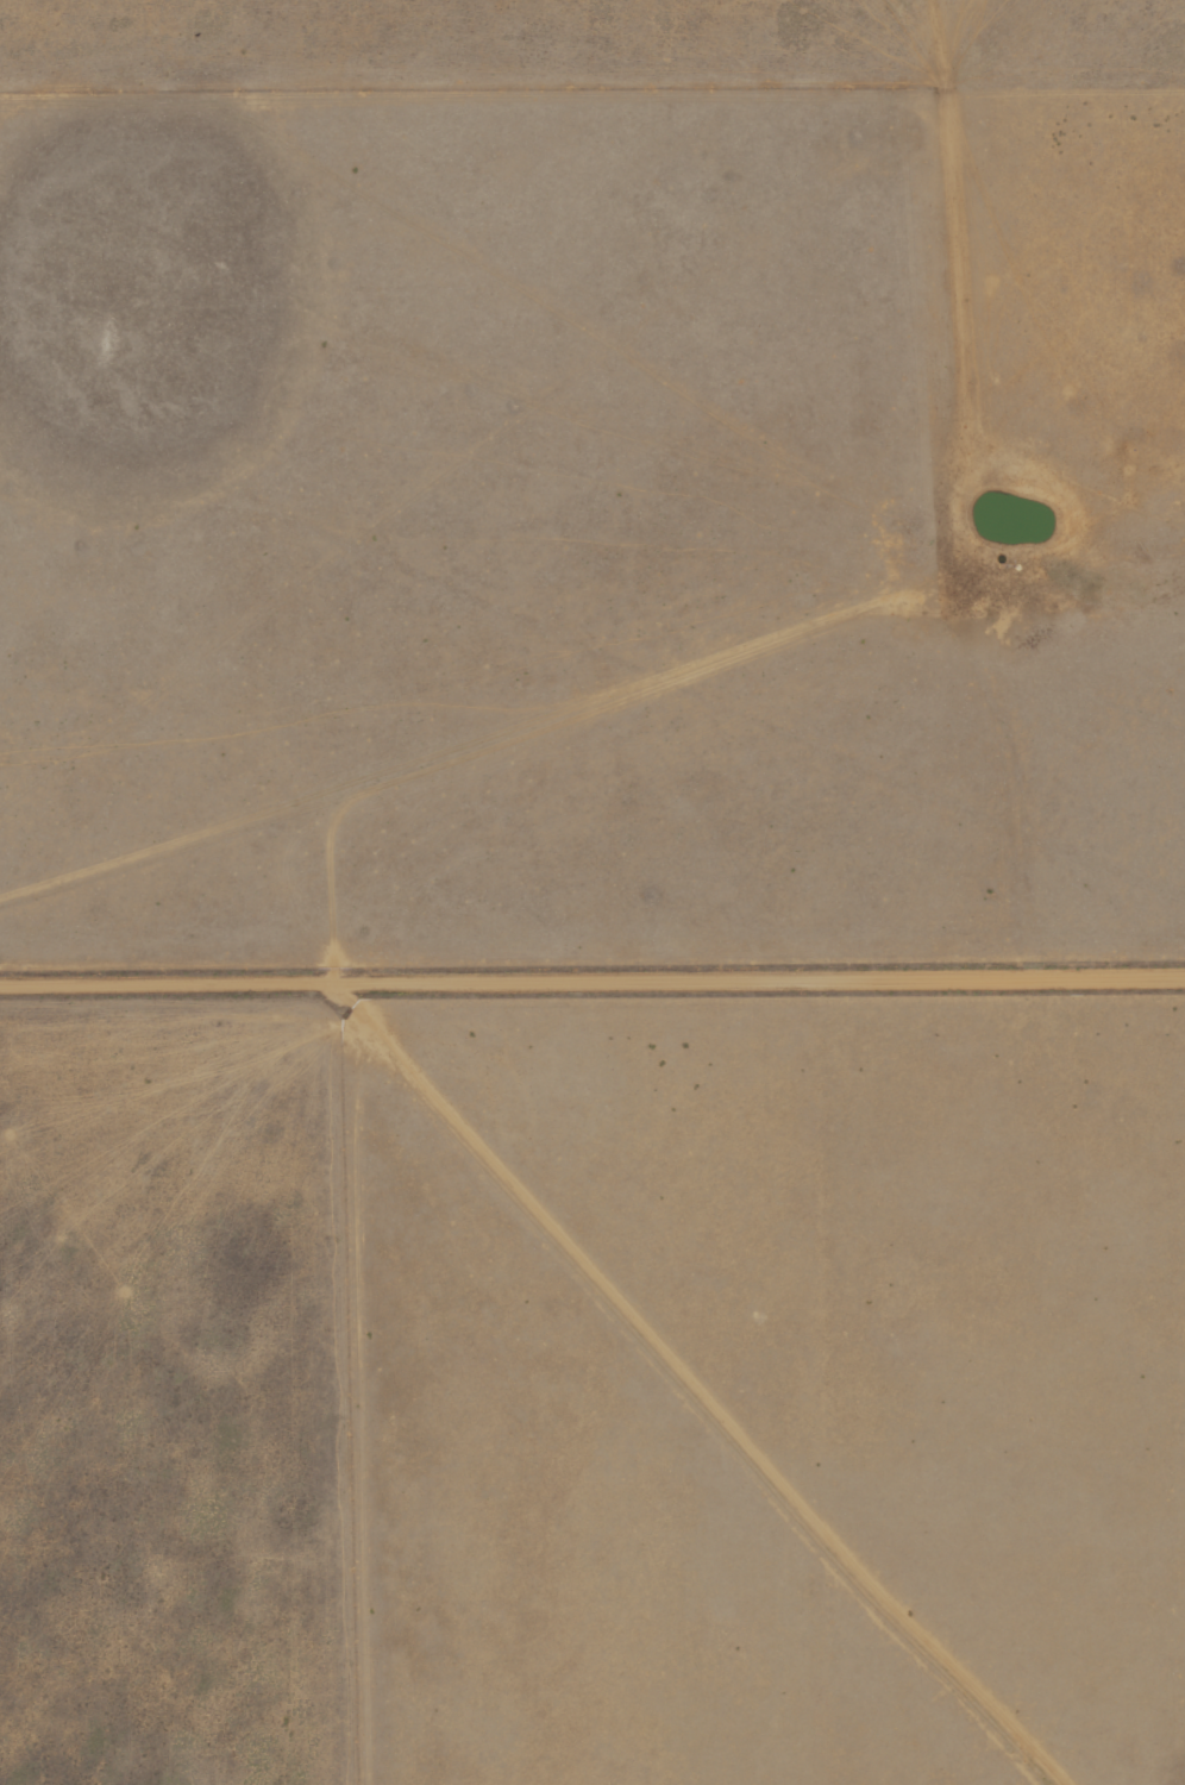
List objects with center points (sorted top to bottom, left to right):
road: (496, 746)
road: (438, 752)
road: (591, 976)
road: (703, 1389)

